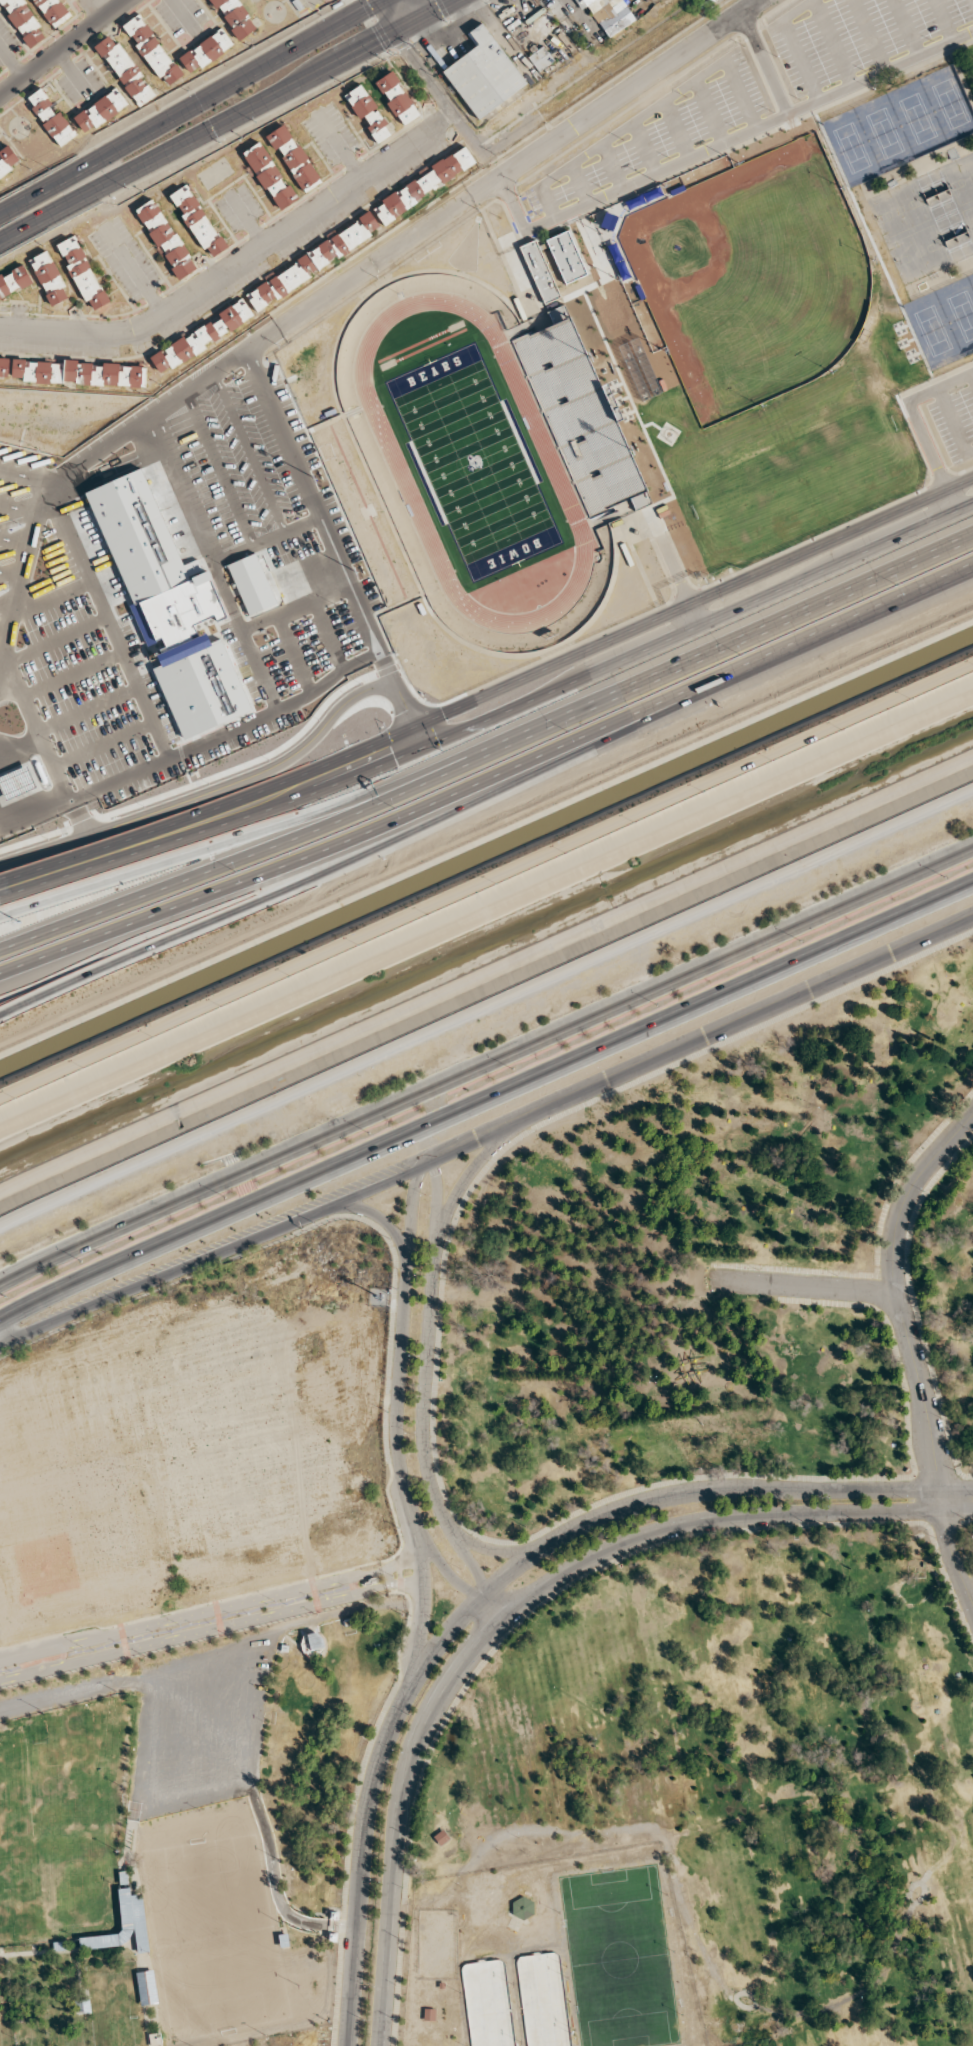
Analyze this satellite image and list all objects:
building: (341, 0)
building: (51, 10)
road: (405, 12)
building: (610, 15)
building: (234, 17)
road: (942, 21)
building: (22, 22)
road: (906, 28)
parking lot: (855, 35)
road: (869, 35)
road: (832, 43)
road: (792, 44)
road: (63, 47)
building: (152, 50)
building: (206, 51)
building: (540, 58)
road: (764, 63)
building: (125, 70)
building: (485, 73)
road: (233, 83)
road: (439, 92)
road: (282, 93)
building: (397, 98)
park: (950, 103)
road: (649, 109)
building: (101, 110)
road: (710, 111)
building: (368, 112)
building: (51, 118)
park: (917, 118)
road: (677, 129)
parking lot: (658, 130)
park: (885, 133)
road: (721, 144)
road: (645, 147)
park: (852, 148)
building: (293, 157)
building: (8, 161)
road: (611, 166)
building: (710, 166)
building: (270, 176)
park: (961, 179)
building: (426, 183)
road: (579, 184)
road: (42, 190)
road: (472, 194)
park: (900, 210)
road: (53, 213)
park: (969, 217)
building: (198, 221)
building: (166, 239)
park: (918, 252)
building: (567, 256)
road: (238, 259)
building: (312, 263)
building: (540, 271)
park: (756, 272)
building: (82, 273)
building: (49, 278)
building: (14, 281)
building: (559, 313)
park: (963, 313)
building: (652, 317)
park: (933, 330)
building: (201, 337)
building: (4, 368)
building: (77, 373)
road: (972, 376)
building: (582, 415)
parking lot: (954, 422)
road: (953, 425)
road: (929, 457)
stadium: (472, 461)
park: (473, 462)
road: (858, 463)
track: (397, 466)
road: (757, 468)
road: (826, 477)
road: (793, 492)
building: (642, 498)
parking lot: (797, 499)
road: (761, 507)
road: (728, 522)
road: (809, 525)
road: (832, 541)
road: (837, 564)
building: (192, 657)
road: (699, 658)
road: (725, 677)
road: (350, 752)
road: (356, 774)
road: (212, 846)
road: (213, 865)
road: (238, 883)
road: (242, 907)
river: (486, 944)
road: (486, 1017)
road: (694, 1036)
road: (485, 1060)
road: (485, 1095)
road: (469, 1168)
road: (374, 1215)
road: (208, 1256)
road: (916, 1305)
road: (908, 1351)
road: (397, 1352)
road: (424, 1394)
park: (711, 1555)
road: (209, 1609)
road: (210, 1630)
road: (61, 1658)
road: (260, 1679)
parking lot: (195, 1728)
park: (52, 1790)
park: (51, 1890)
park: (213, 1924)
park: (618, 1956)
parking lot: (300, 2037)
park: (239, 2045)

